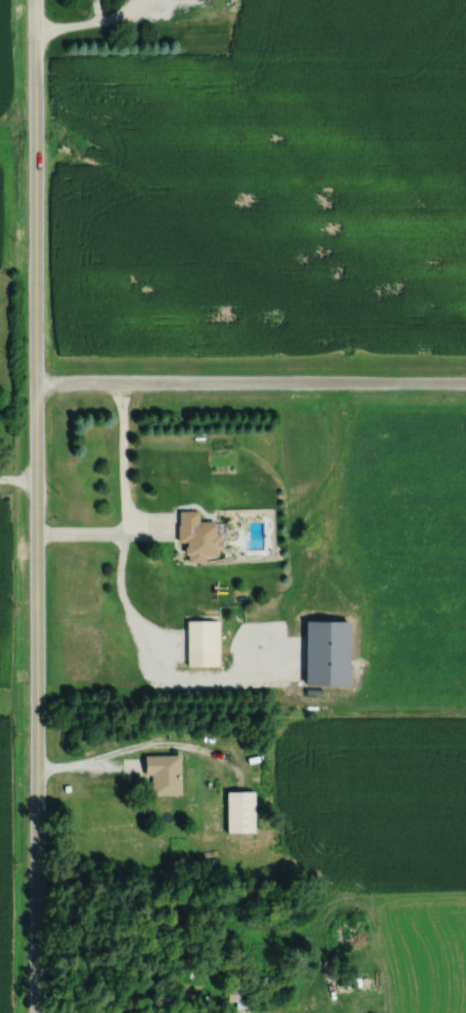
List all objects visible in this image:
road: (251, 380)
road: (18, 477)
road: (124, 502)
road: (37, 506)
building: (199, 537)
building: (200, 634)
road: (144, 745)
building: (164, 774)
building: (240, 812)
building: (239, 994)

